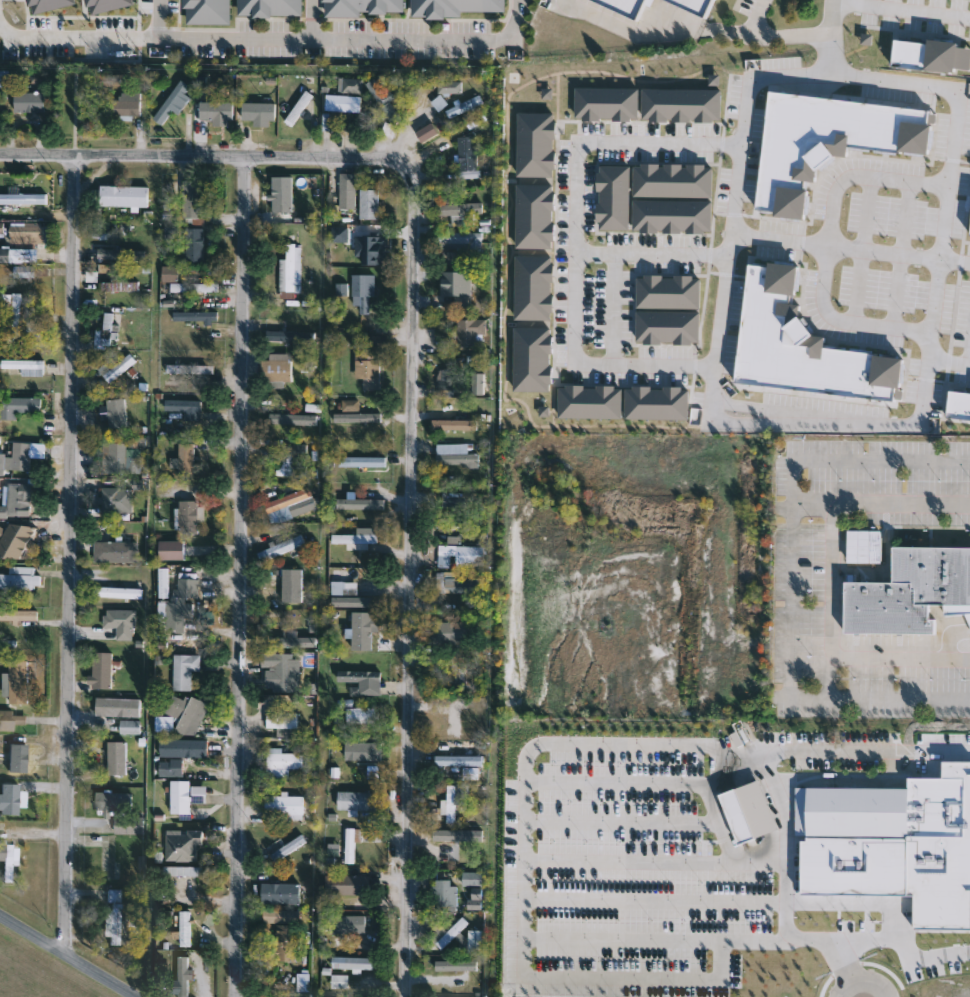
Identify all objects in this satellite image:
building: (47, 4)
building: (108, 5)
building: (358, 6)
building: (453, 6)
building: (696, 6)
parking lot: (170, 7)
building: (269, 7)
building: (621, 7)
road: (902, 9)
building: (208, 11)
road: (158, 18)
road: (313, 19)
parking lot: (261, 26)
parking lot: (409, 28)
road: (626, 31)
road: (728, 32)
road: (774, 34)
road: (75, 37)
road: (831, 37)
road: (350, 39)
parking lot: (239, 50)
parking lot: (404, 52)
building: (923, 55)
building: (449, 85)
building: (28, 100)
building: (171, 101)
building: (343, 101)
building: (123, 104)
building: (463, 105)
road: (75, 110)
building: (221, 113)
building: (827, 137)
building: (467, 152)
road: (741, 153)
building: (347, 189)
building: (123, 194)
building: (23, 197)
building: (287, 197)
building: (368, 202)
building: (458, 209)
building: (1, 226)
building: (969, 232)
building: (26, 233)
building: (459, 240)
road: (577, 241)
road: (829, 244)
road: (852, 248)
building: (360, 250)
building: (16, 253)
building: (116, 253)
road: (654, 255)
building: (289, 266)
building: (23, 271)
building: (170, 271)
building: (120, 284)
building: (193, 285)
building: (362, 289)
building: (11, 313)
building: (195, 314)
building: (32, 327)
building: (106, 327)
building: (471, 331)
building: (282, 334)
building: (801, 345)
road: (969, 358)
road: (949, 361)
building: (22, 362)
building: (118, 365)
building: (279, 365)
building: (189, 367)
building: (368, 369)
road: (409, 377)
building: (456, 381)
building: (182, 403)
building: (350, 403)
building: (958, 403)
building: (18, 405)
building: (116, 411)
building: (355, 416)
building: (289, 417)
building: (452, 425)
building: (455, 453)
building: (20, 455)
building: (114, 457)
building: (284, 458)
building: (185, 459)
building: (362, 460)
building: (16, 499)
building: (115, 500)
building: (291, 501)
building: (360, 502)
building: (190, 510)
building: (16, 539)
building: (280, 546)
road: (68, 549)
building: (115, 551)
building: (460, 555)
building: (347, 567)
road: (239, 574)
building: (18, 578)
road: (793, 579)
road: (833, 580)
building: (455, 582)
building: (187, 586)
building: (117, 591)
building: (910, 591)
building: (281, 599)
building: (18, 614)
building: (458, 632)
building: (97, 668)
building: (183, 668)
building: (361, 680)
building: (17, 681)
building: (117, 705)
building: (186, 712)
building: (360, 714)
building: (12, 719)
building: (282, 721)
building: (457, 721)
building: (164, 722)
building: (129, 725)
building: (182, 746)
building: (17, 749)
building: (359, 752)
building: (117, 757)
building: (283, 758)
building: (458, 759)
road: (774, 761)
building: (170, 768)
building: (184, 794)
building: (8, 797)
building: (356, 799)
building: (109, 800)
building: (450, 802)
building: (284, 804)
building: (890, 810)
building: (128, 823)
building: (350, 841)
building: (182, 844)
building: (286, 844)
building: (448, 844)
road: (658, 859)
building: (6, 860)
building: (183, 874)
building: (472, 878)
road: (898, 878)
building: (348, 883)
building: (280, 892)
road: (790, 892)
building: (445, 895)
road: (656, 899)
building: (112, 915)
building: (282, 915)
building: (342, 924)
road: (523, 924)
building: (184, 927)
building: (445, 931)
road: (891, 932)
road: (626, 936)
building: (476, 940)
building: (286, 942)
road: (70, 953)
building: (352, 962)
building: (182, 976)
road: (865, 979)

